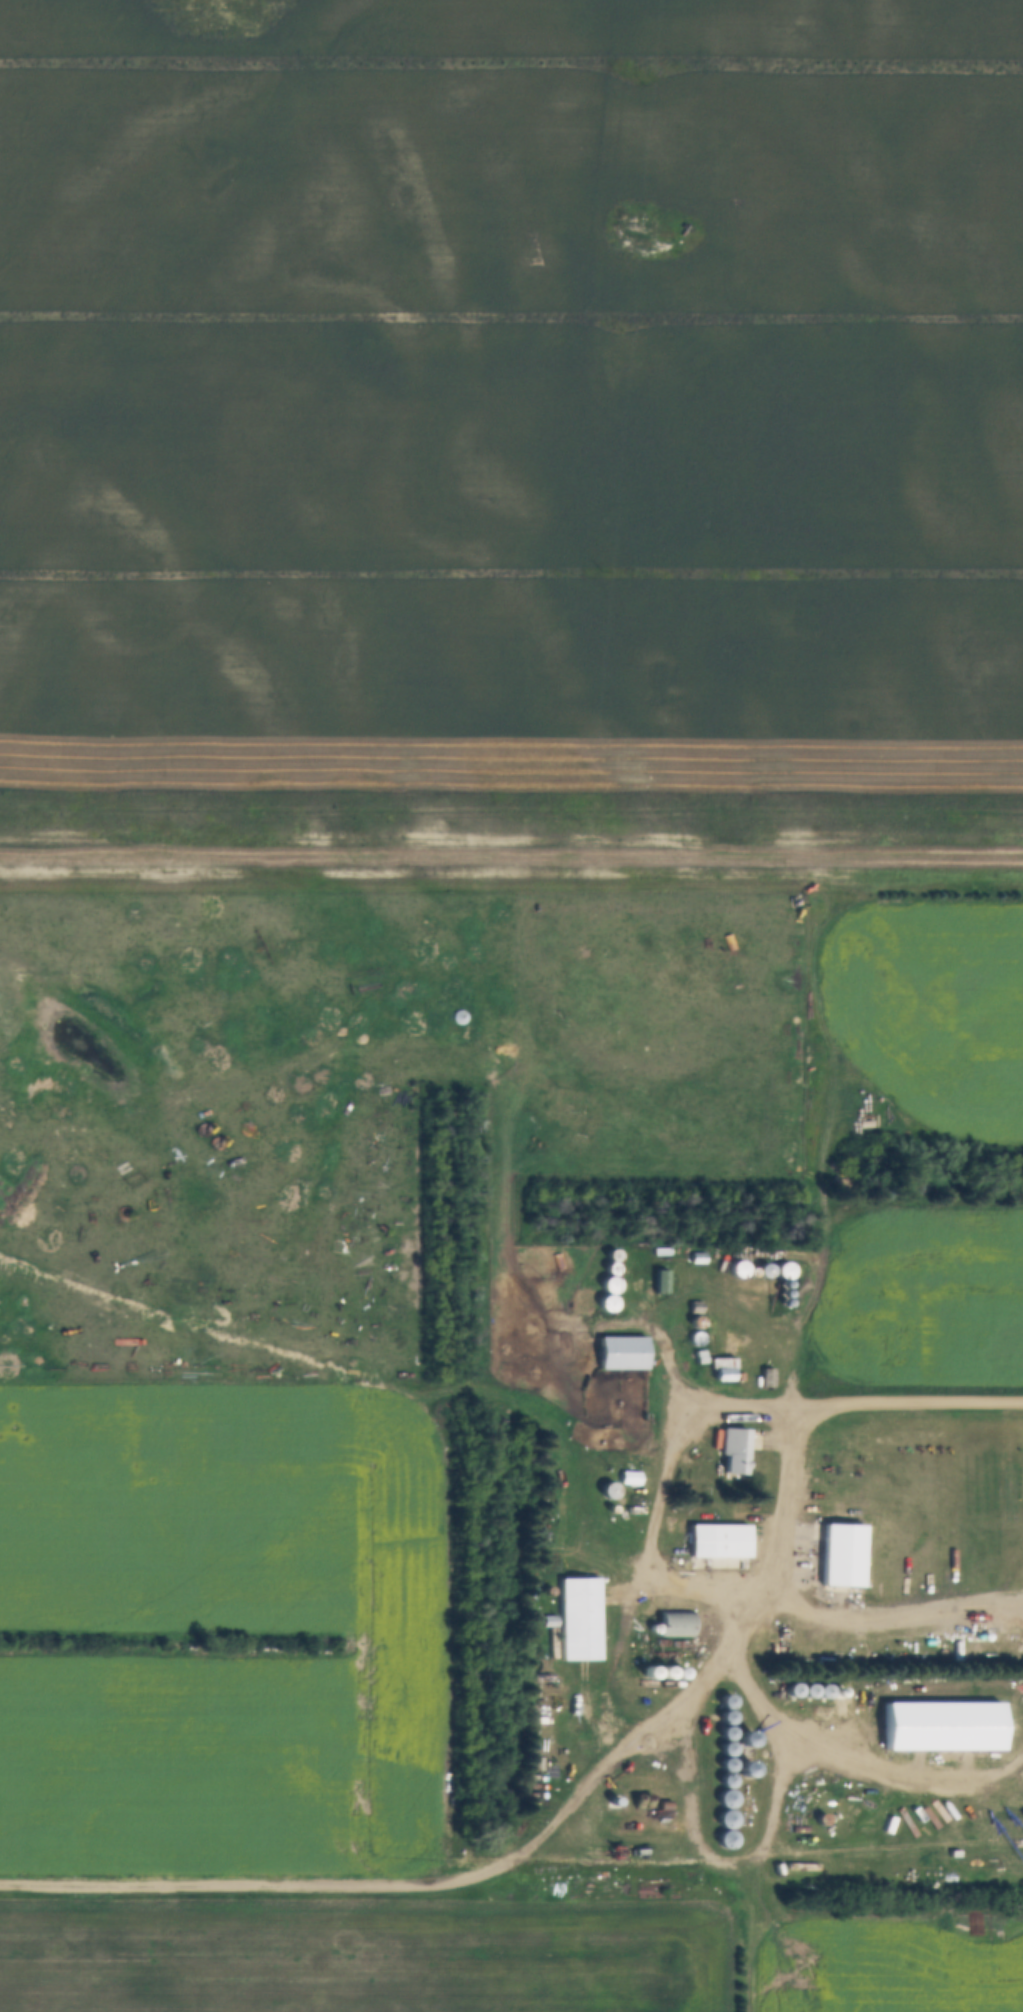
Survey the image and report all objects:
building: (658, 1283)
building: (605, 1295)
building: (619, 1354)
building: (720, 1370)
building: (731, 1452)
road: (668, 1491)
road: (787, 1511)
building: (840, 1559)
building: (577, 1621)
building: (673, 1626)
building: (940, 1727)
building: (724, 1734)
building: (744, 1740)
building: (724, 1756)
building: (743, 1773)
building: (723, 1781)
building: (724, 1820)
road: (332, 1890)

